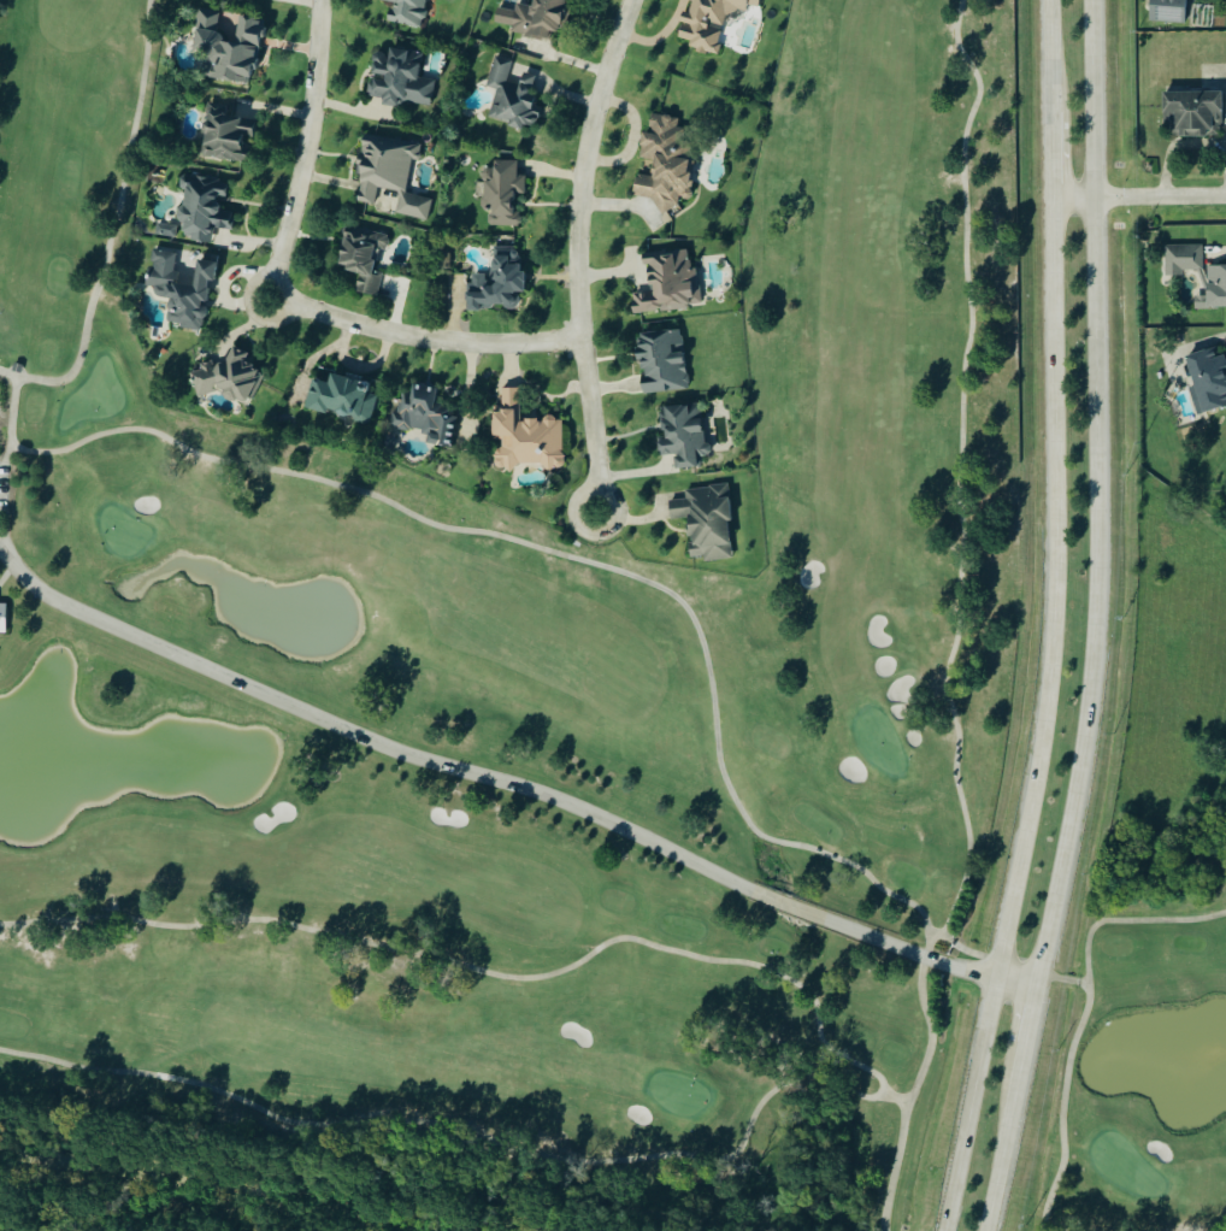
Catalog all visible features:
building: (1165, 11)
building: (402, 12)
building: (537, 19)
building: (707, 22)
road: (658, 34)
building: (224, 48)
road: (1054, 58)
building: (395, 78)
building: (508, 96)
building: (1190, 114)
building: (224, 136)
road: (308, 151)
road: (1055, 158)
building: (662, 165)
building: (388, 175)
building: (500, 194)
road: (1140, 200)
building: (200, 208)
building: (165, 230)
road: (106, 251)
road: (579, 253)
building: (359, 259)
building: (1180, 261)
building: (495, 283)
building: (665, 284)
building: (1215, 288)
building: (179, 289)
road: (424, 340)
building: (659, 363)
building: (228, 379)
building: (1208, 379)
building: (340, 399)
building: (420, 414)
building: (521, 437)
building: (679, 437)
road: (957, 476)
road: (1103, 496)
building: (702, 522)
building: (1, 618)
park: (518, 690)
road: (1044, 719)
road: (490, 779)
road: (1020, 983)
road: (1036, 1018)
park: (1138, 1071)
road: (1008, 1138)
river: (204, 1191)

